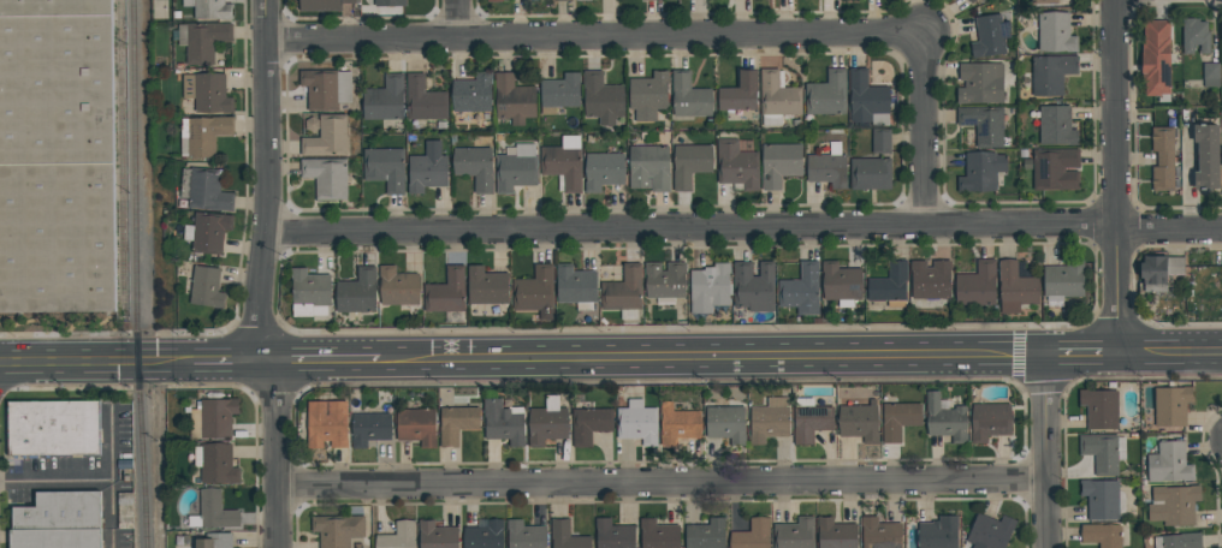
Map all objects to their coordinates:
building: (493, 0)
building: (582, 0)
building: (651, 0)
building: (665, 0)
building: (971, 1)
building: (1044, 1)
building: (388, 2)
building: (322, 5)
building: (213, 10)
road: (455, 20)
building: (1221, 29)
building: (1055, 32)
building: (1194, 35)
building: (990, 36)
road: (592, 40)
building: (204, 41)
building: (1156, 60)
building: (1210, 71)
building: (1051, 75)
building: (981, 83)
building: (320, 89)
building: (560, 91)
building: (208, 93)
building: (740, 93)
building: (473, 94)
building: (827, 94)
building: (648, 95)
building: (778, 95)
building: (689, 96)
building: (603, 99)
building: (867, 99)
building: (384, 100)
building: (425, 100)
building: (514, 100)
building: (772, 120)
building: (984, 124)
building: (1056, 125)
building: (204, 133)
road: (920, 133)
building: (326, 136)
railway: (124, 154)
building: (1206, 156)
building: (1163, 159)
building: (57, 161)
building: (690, 163)
building: (779, 163)
building: (736, 165)
building: (873, 165)
building: (474, 166)
building: (563, 166)
building: (385, 168)
building: (427, 168)
building: (649, 168)
building: (827, 169)
building: (1055, 169)
building: (604, 171)
building: (981, 171)
building: (516, 173)
road: (1114, 175)
building: (326, 177)
building: (208, 190)
building: (209, 232)
road: (742, 232)
building: (1159, 270)
railway: (138, 274)
road: (261, 275)
building: (1063, 279)
building: (665, 280)
building: (930, 280)
building: (841, 281)
building: (889, 284)
building: (575, 285)
building: (977, 285)
building: (487, 286)
building: (754, 286)
building: (206, 287)
building: (397, 287)
building: (710, 287)
building: (1015, 287)
building: (623, 290)
building: (801, 290)
building: (308, 291)
building: (357, 291)
building: (446, 291)
building: (535, 292)
road: (706, 344)
road: (1168, 351)
road: (1079, 353)
road: (225, 362)
road: (315, 362)
road: (94, 363)
road: (707, 367)
building: (1170, 406)
building: (1101, 409)
building: (218, 417)
building: (809, 419)
building: (859, 419)
building: (900, 419)
building: (947, 419)
building: (990, 421)
building: (547, 422)
building: (327, 423)
building: (456, 423)
building: (504, 423)
building: (637, 423)
building: (726, 423)
building: (769, 423)
building: (589, 424)
building: (678, 424)
building: (417, 425)
building: (53, 428)
building: (369, 428)
road: (1044, 451)
building: (1101, 453)
building: (1168, 463)
building: (218, 464)
road: (111, 475)
road: (55, 477)
road: (660, 484)
building: (1101, 499)
building: (1174, 505)
building: (215, 510)
building: (59, 511)
building: (338, 530)
building: (990, 531)
building: (939, 532)
building: (795, 534)
building: (836, 534)
building: (880, 534)
building: (485, 535)
building: (526, 535)
building: (613, 535)
building: (658, 535)
building: (706, 535)
building: (752, 535)
building: (1102, 535)
building: (397, 536)
building: (437, 536)
building: (566, 536)
building: (55, 538)
building: (215, 541)
building: (1182, 541)

